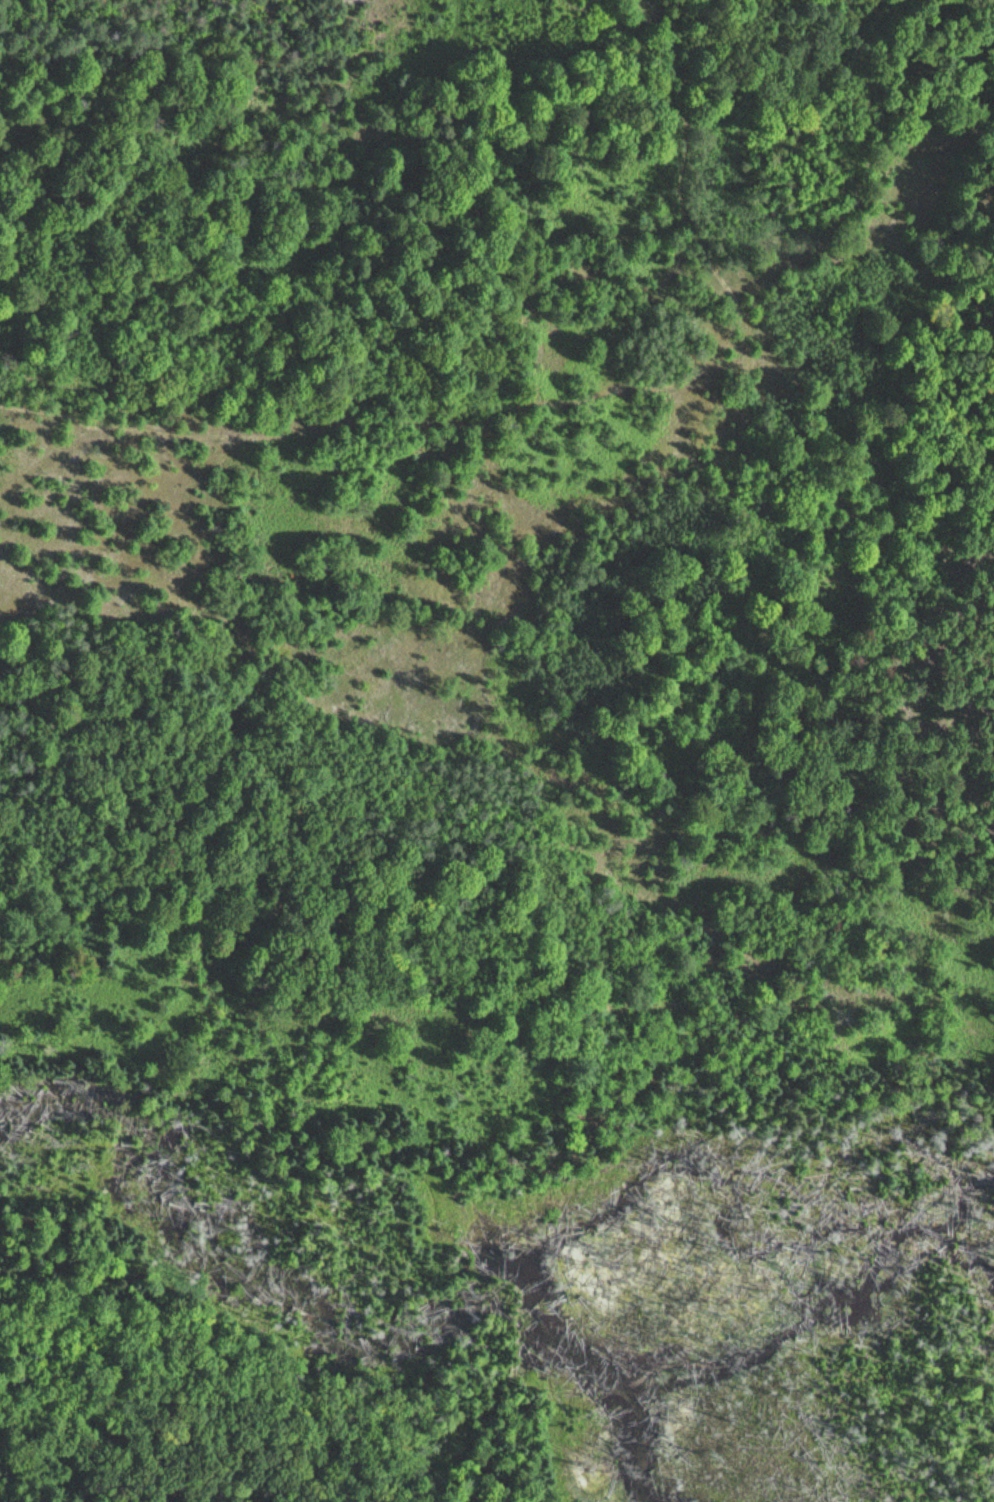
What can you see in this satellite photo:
river: (379, 1270)

